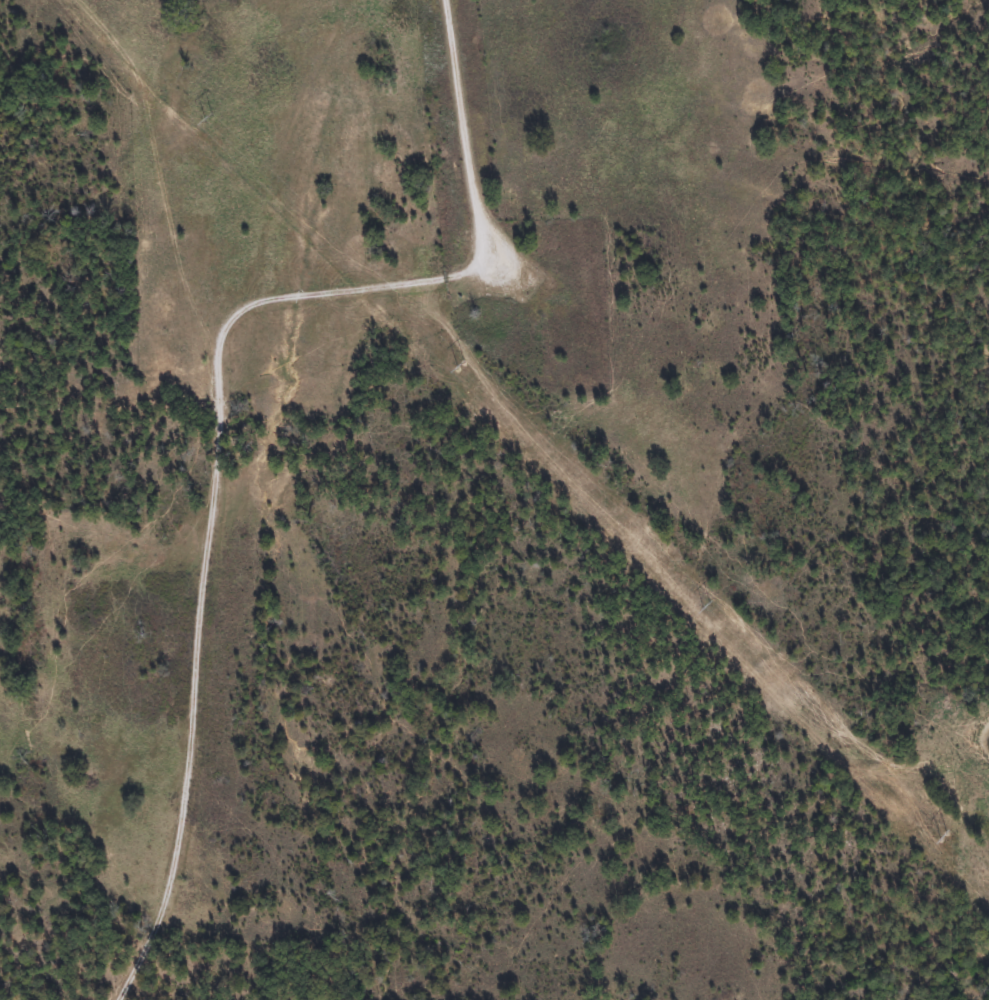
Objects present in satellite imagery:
road: (464, 120)

